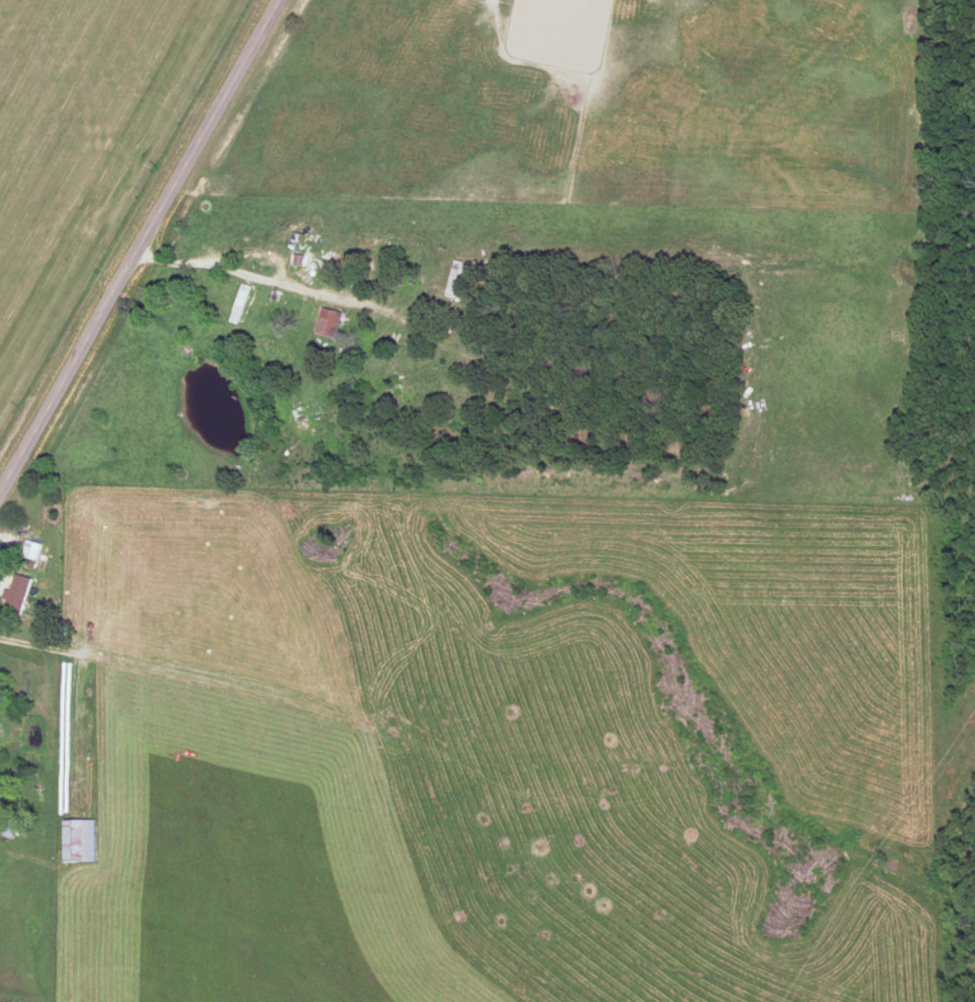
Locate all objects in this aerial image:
road: (139, 247)
road: (252, 252)
building: (454, 281)
building: (326, 324)
building: (30, 551)
building: (15, 595)
road: (42, 648)
building: (7, 832)
building: (79, 841)

